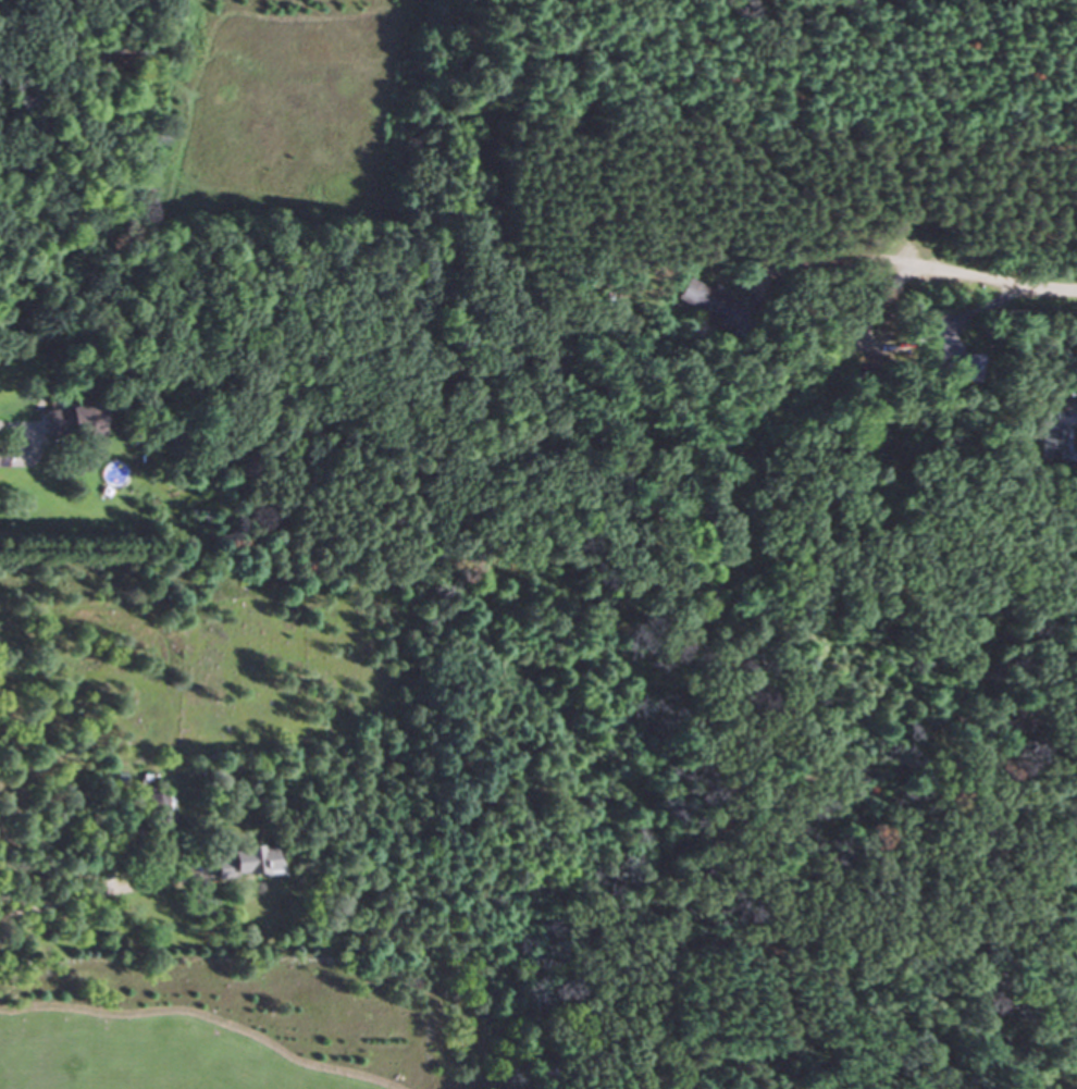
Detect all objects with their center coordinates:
road: (833, 256)
road: (1001, 279)
building: (713, 305)
building: (66, 421)
building: (1051, 437)
building: (115, 472)
building: (152, 803)
building: (240, 861)
road: (97, 888)

